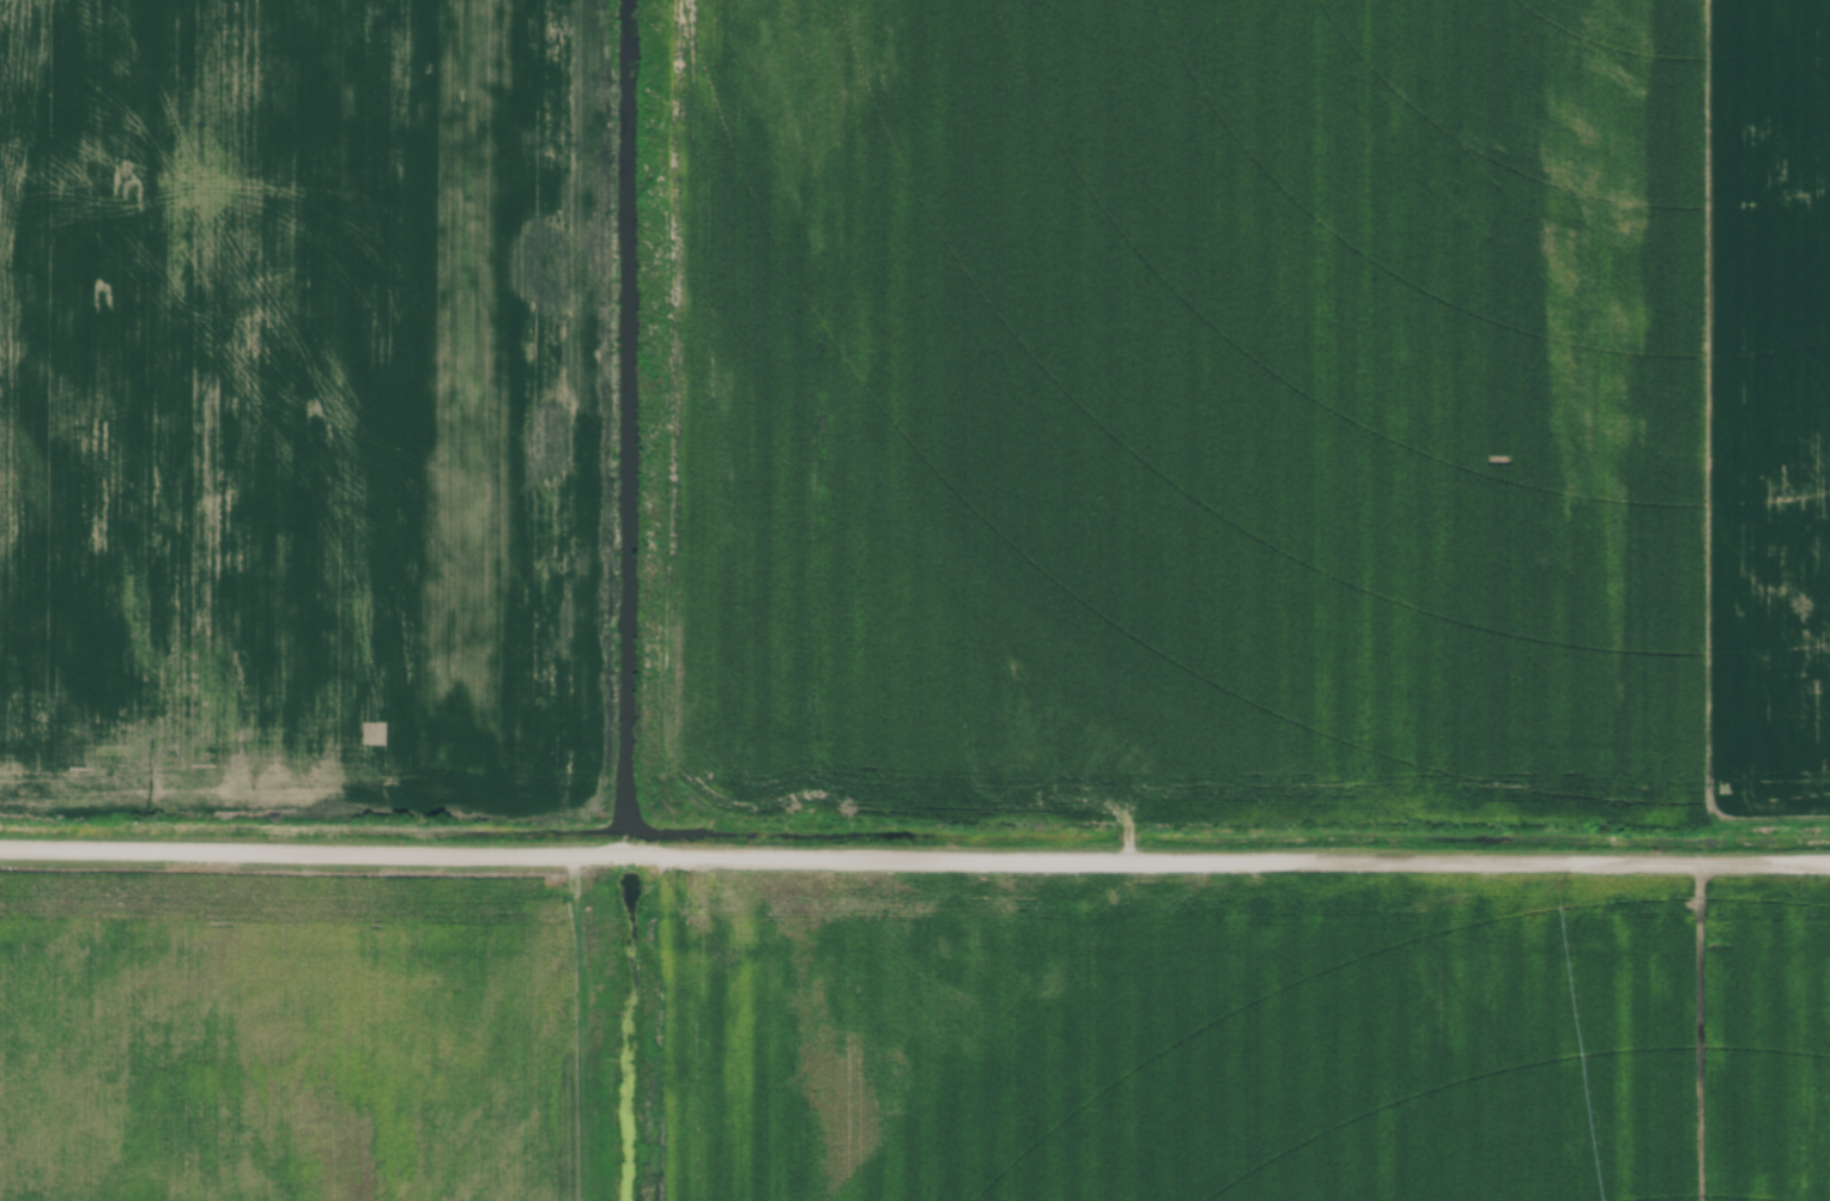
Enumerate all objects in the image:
road: (914, 865)

